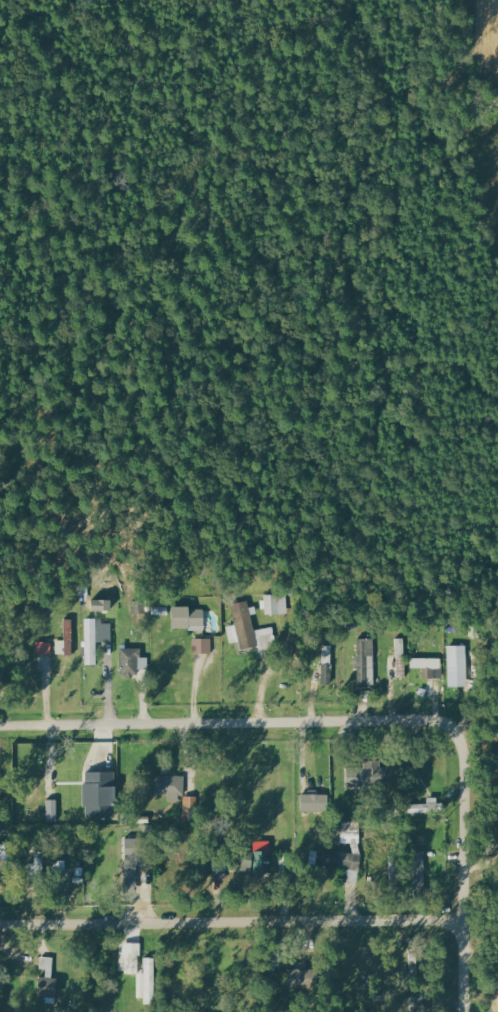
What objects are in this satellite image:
building: (276, 604)
building: (187, 618)
building: (249, 630)
building: (68, 637)
building: (95, 638)
building: (43, 648)
building: (401, 657)
building: (365, 662)
building: (327, 665)
building: (428, 667)
building: (456, 668)
road: (244, 723)
building: (494, 733)
building: (367, 776)
building: (169, 786)
building: (99, 795)
building: (191, 806)
building: (320, 806)
building: (427, 807)
building: (52, 811)
building: (350, 833)
building: (135, 852)
building: (330, 859)
building: (36, 865)
building: (60, 869)
building: (418, 871)
road: (464, 885)
road: (232, 921)
building: (132, 958)
building: (46, 978)
building: (296, 978)
building: (147, 982)

